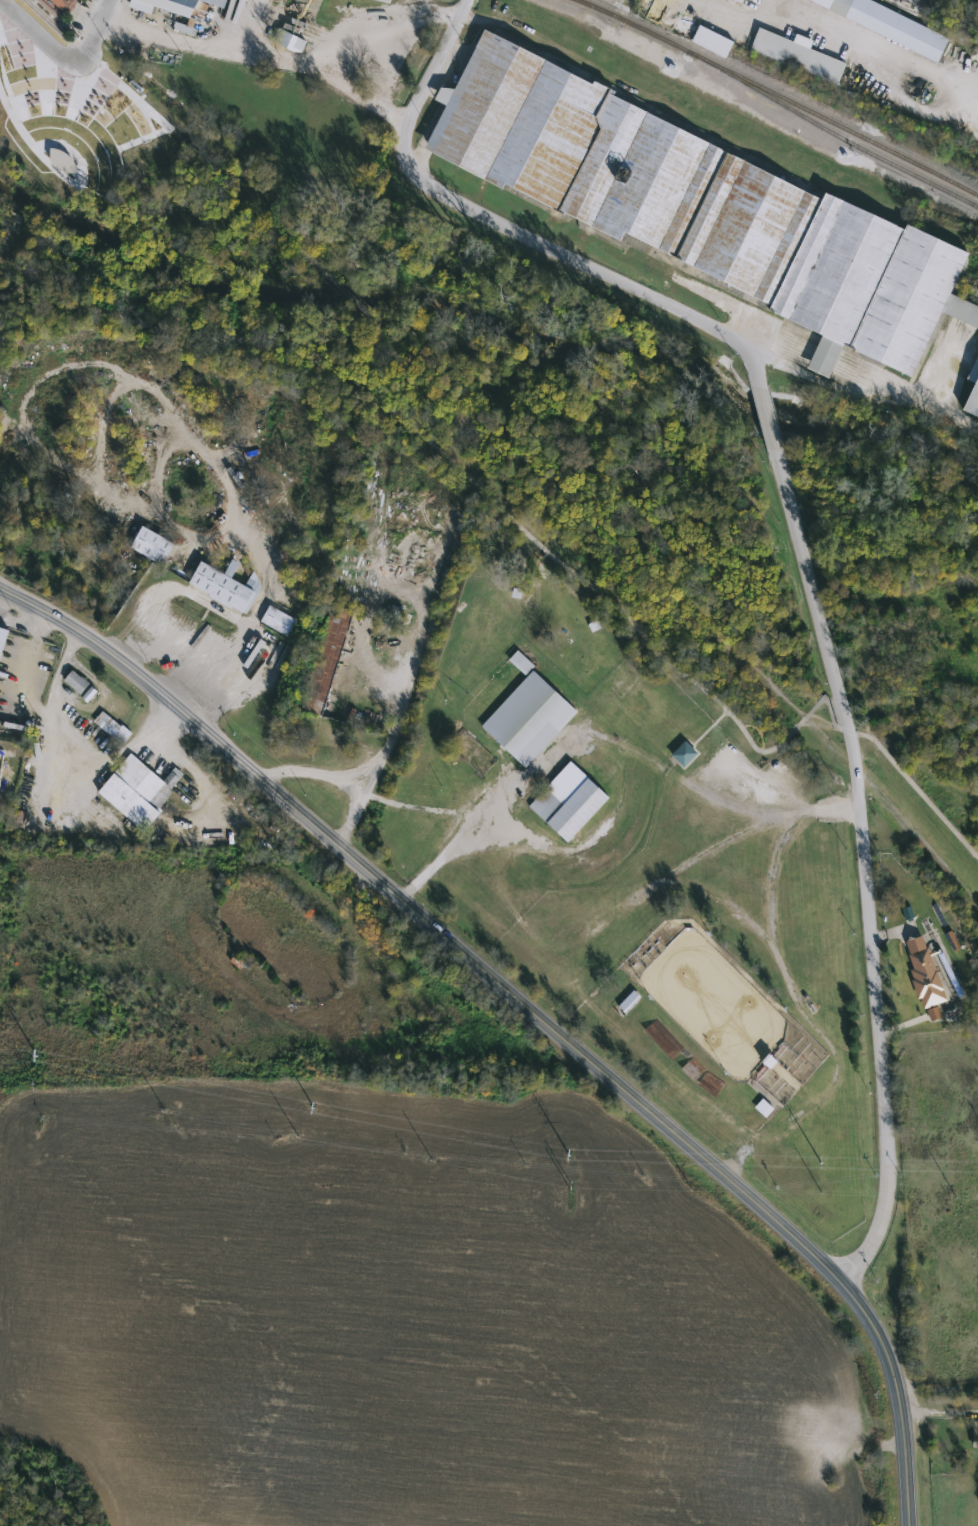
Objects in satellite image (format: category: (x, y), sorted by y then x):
building: (247, 0)
building: (737, 2)
building: (65, 4)
road: (905, 4)
building: (177, 6)
road: (384, 16)
building: (892, 24)
building: (288, 38)
building: (711, 39)
road: (260, 56)
building: (797, 57)
road: (64, 59)
railway: (683, 59)
road: (431, 72)
railway: (756, 89)
railway: (782, 94)
railway: (56, 113)
park: (77, 116)
building: (61, 159)
railway: (893, 161)
building: (697, 204)
road: (565, 257)
road: (756, 370)
building: (972, 402)
road: (864, 404)
road: (769, 420)
building: (153, 546)
road: (541, 547)
building: (225, 586)
road: (215, 605)
building: (278, 622)
road: (184, 632)
park: (536, 635)
road: (420, 637)
building: (2, 638)
building: (38, 656)
building: (326, 661)
building: (79, 682)
building: (528, 717)
building: (113, 726)
building: (968, 750)
building: (685, 755)
road: (338, 778)
building: (138, 789)
building: (569, 803)
road: (355, 810)
road: (778, 811)
road: (774, 863)
road: (865, 863)
park: (670, 920)
building: (952, 942)
building: (926, 979)
road: (535, 999)
building: (629, 1002)
power tower: (36, 1057)
building: (803, 1073)
building: (763, 1108)
power tower: (315, 1110)
power tower: (570, 1157)
power tower: (822, 1164)
building: (975, 1435)

